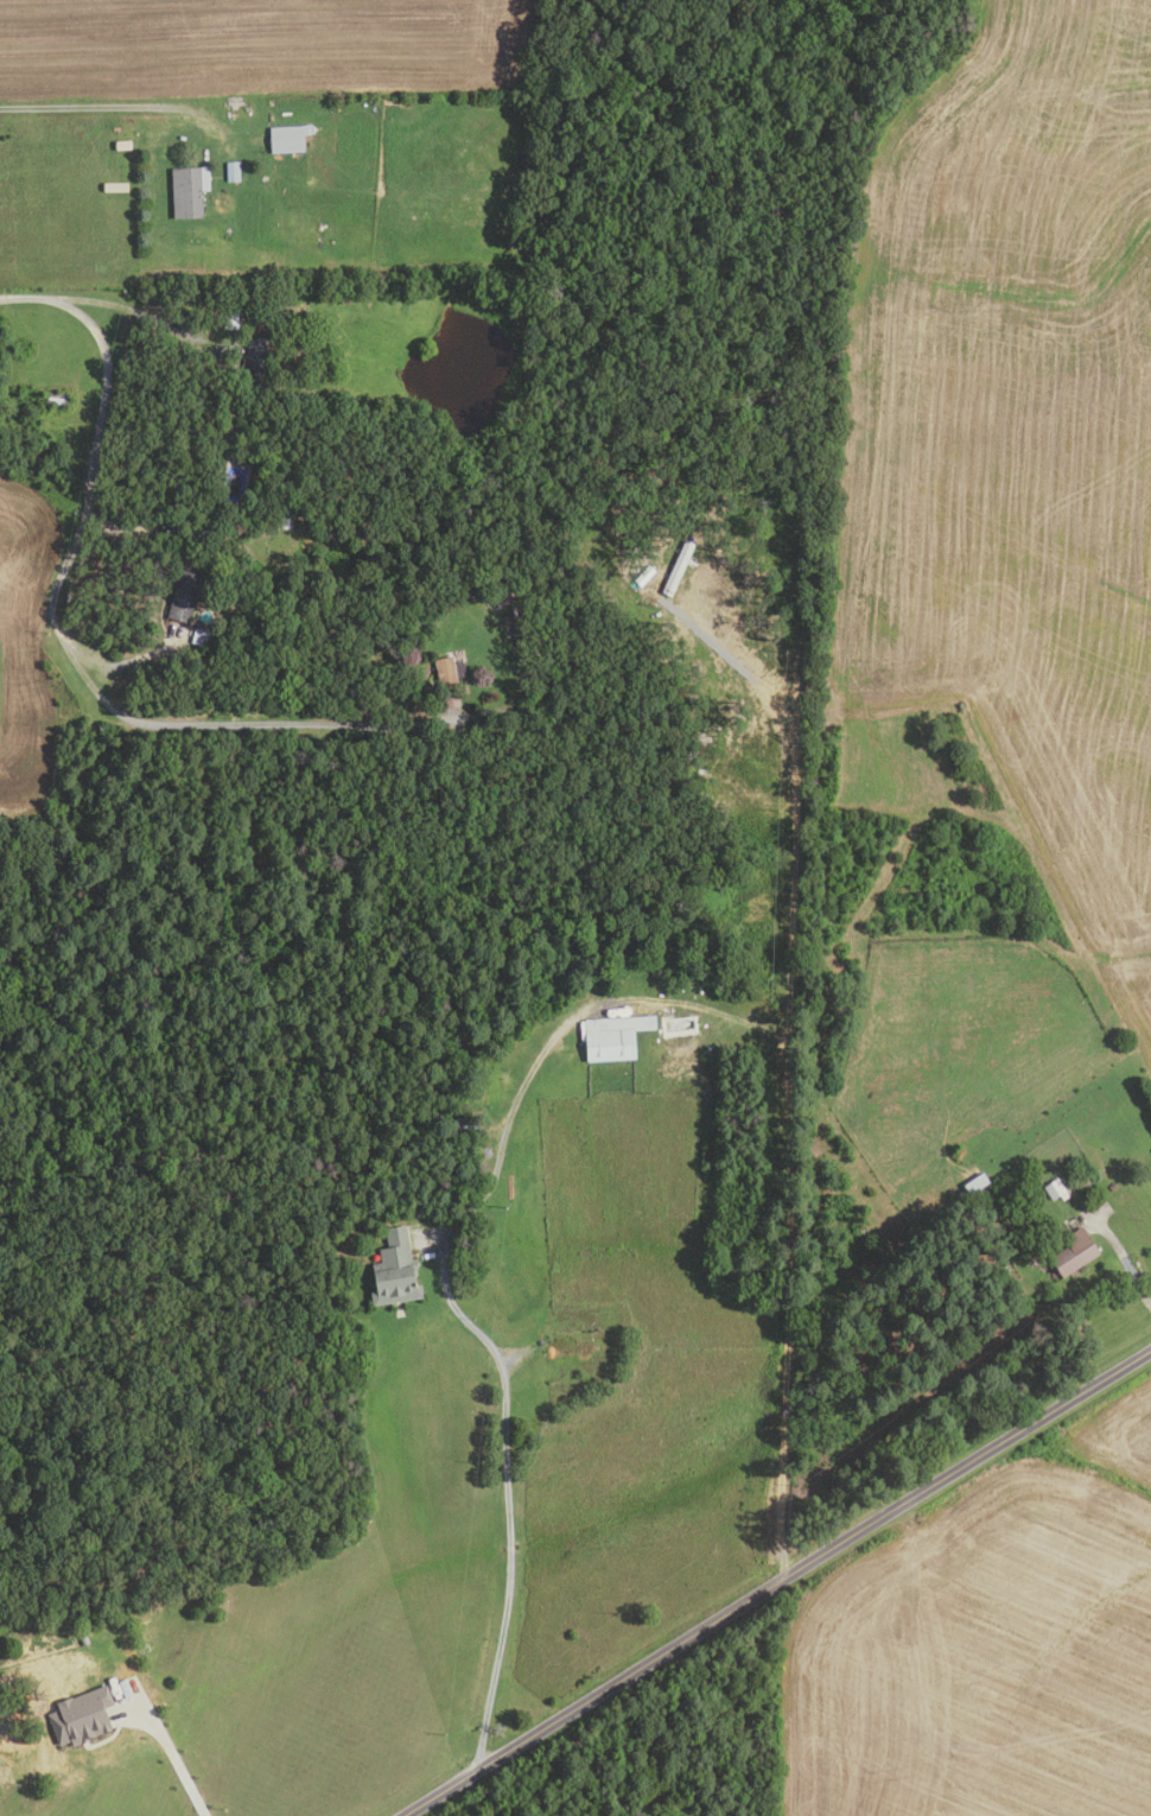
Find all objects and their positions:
road: (123, 101)
building: (287, 139)
building: (123, 144)
building: (163, 151)
building: (174, 152)
building: (234, 171)
building: (189, 190)
road: (127, 305)
building: (230, 320)
building: (183, 322)
building: (255, 366)
building: (58, 400)
road: (96, 430)
building: (286, 523)
building: (679, 569)
building: (646, 576)
building: (472, 589)
building: (451, 595)
building: (505, 596)
building: (184, 597)
building: (201, 637)
road: (116, 655)
building: (446, 672)
road: (235, 722)
building: (615, 1037)
building: (977, 1185)
building: (1112, 1185)
building: (1055, 1190)
building: (1074, 1253)
road: (1125, 1263)
building: (396, 1269)
road: (509, 1367)
road: (774, 1581)
crop: (986, 1644)
building: (82, 1716)
road: (173, 1752)

